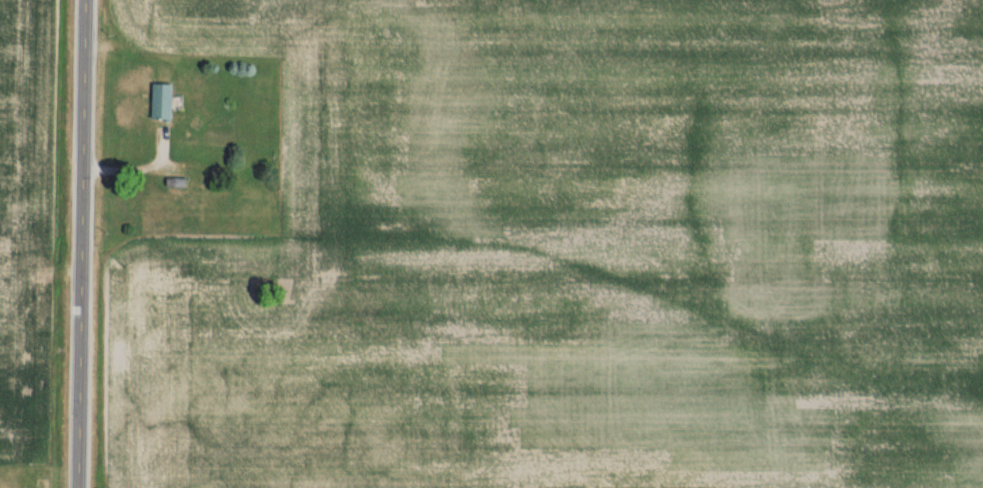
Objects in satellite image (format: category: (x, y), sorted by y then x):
building: (155, 101)
road: (79, 244)

